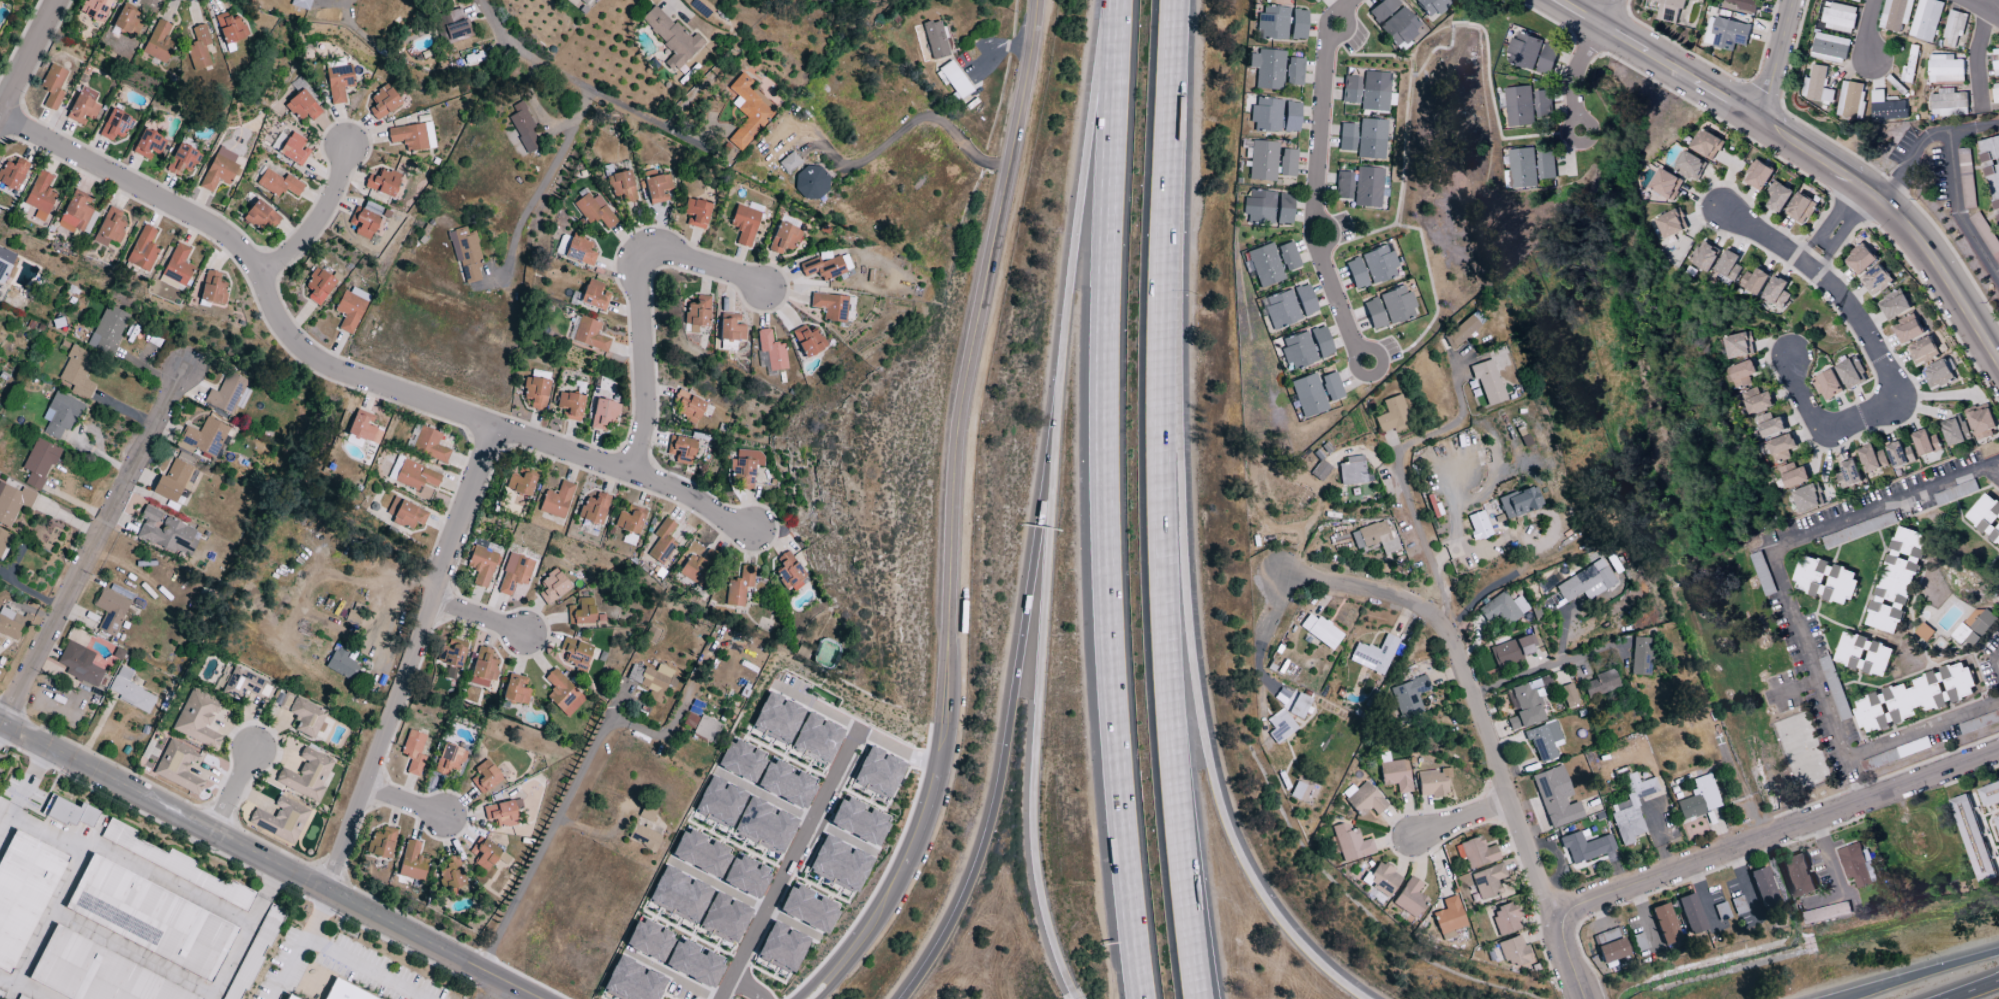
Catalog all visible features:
building: (596, 0)
building: (1317, 0)
building: (1860, 0)
building: (584, 1)
road: (331, 2)
building: (1744, 3)
building: (300, 4)
road: (1628, 4)
road: (1346, 6)
road: (1991, 6)
building: (1432, 7)
road: (1982, 7)
building: (1666, 8)
building: (95, 9)
road: (1614, 14)
building: (1894, 14)
building: (1839, 16)
building: (1924, 19)
building: (127, 20)
building: (1394, 21)
building: (1273, 23)
building: (1298, 24)
building: (454, 25)
building: (1953, 27)
building: (230, 28)
road: (1866, 29)
building: (1728, 33)
road: (1325, 34)
building: (671, 38)
building: (935, 39)
road: (1767, 39)
building: (158, 42)
building: (1829, 47)
building: (198, 48)
road: (1701, 48)
road: (1802, 48)
building: (1523, 50)
road: (1589, 50)
road: (26, 52)
road: (1005, 52)
road: (1977, 56)
building: (1546, 58)
road: (1777, 61)
building: (1995, 61)
building: (1945, 68)
building: (1268, 69)
building: (1294, 72)
building: (1905, 73)
building: (954, 80)
road: (574, 81)
building: (339, 83)
building: (1816, 84)
building: (52, 86)
building: (1350, 90)
building: (1375, 91)
building: (1995, 92)
road: (1575, 96)
building: (1849, 98)
building: (383, 102)
building: (1542, 102)
building: (1948, 102)
building: (1518, 105)
building: (83, 106)
building: (302, 106)
building: (1886, 106)
building: (747, 111)
building: (1266, 115)
building: (1291, 117)
road: (909, 123)
building: (115, 125)
building: (524, 129)
road: (1321, 129)
road: (1567, 130)
road: (1591, 131)
building: (412, 137)
building: (1347, 137)
building: (1371, 139)
building: (1706, 143)
building: (147, 144)
building: (294, 149)
road: (1806, 150)
road: (1913, 155)
building: (182, 160)
building: (1263, 161)
building: (789, 162)
building: (1287, 163)
building: (1546, 165)
building: (1689, 165)
building: (1521, 167)
building: (219, 170)
building: (1992, 170)
building: (12, 174)
building: (1757, 174)
road: (544, 179)
building: (812, 182)
building: (382, 183)
building: (1665, 183)
building: (278, 184)
building: (622, 186)
building: (1344, 186)
building: (1368, 187)
building: (658, 189)
road: (1956, 189)
road: (1910, 190)
building: (1777, 195)
building: (40, 196)
building: (1259, 207)
building: (1799, 207)
building: (1284, 209)
building: (594, 211)
building: (696, 213)
building: (74, 214)
building: (261, 217)
road: (316, 219)
road: (1830, 221)
building: (1671, 222)
building: (363, 223)
building: (745, 223)
building: (109, 228)
road: (1842, 230)
road: (1076, 232)
building: (783, 239)
building: (1989, 240)
road: (1824, 242)
road: (1313, 245)
building: (142, 250)
building: (579, 250)
building: (1703, 255)
building: (466, 256)
building: (1288, 256)
building: (1859, 258)
building: (5, 264)
building: (1728, 264)
building: (1264, 265)
building: (1379, 265)
building: (826, 267)
building: (176, 268)
building: (1356, 273)
building: (1753, 280)
building: (1875, 280)
building: (318, 286)
building: (212, 288)
building: (1776, 291)
building: (593, 295)
road: (1337, 299)
building: (1305, 300)
road: (1844, 303)
road: (640, 304)
building: (1397, 305)
building: (830, 306)
building: (1894, 306)
building: (351, 308)
building: (1280, 310)
building: (697, 314)
building: (1374, 314)
building: (730, 328)
building: (108, 330)
building: (1907, 330)
building: (1461, 331)
building: (589, 335)
building: (808, 341)
building: (1321, 342)
building: (1738, 344)
building: (1922, 349)
road: (1362, 350)
building: (771, 351)
building: (1298, 351)
road: (339, 371)
building: (77, 372)
building: (1850, 372)
building: (1741, 373)
building: (1937, 373)
building: (1487, 382)
building: (1827, 384)
building: (1331, 387)
building: (535, 392)
building: (226, 394)
building: (1308, 396)
building: (1756, 399)
building: (570, 406)
building: (688, 406)
road: (1806, 406)
building: (603, 414)
building: (60, 415)
building: (1392, 415)
building: (1981, 423)
building: (1769, 424)
building: (363, 427)
building: (1954, 430)
building: (203, 438)
building: (1925, 442)
building: (429, 445)
building: (1781, 446)
building: (680, 449)
building: (1899, 454)
building: (1871, 458)
building: (39, 463)
building: (745, 467)
road: (1992, 468)
building: (1320, 470)
building: (1351, 471)
building: (1793, 474)
building: (1847, 474)
building: (415, 476)
road: (1398, 476)
building: (174, 482)
building: (520, 484)
building: (1807, 497)
road: (1103, 500)
road: (1158, 500)
building: (556, 501)
building: (12, 502)
building: (1519, 502)
building: (593, 509)
building: (405, 514)
road: (954, 515)
building: (1985, 518)
building: (629, 521)
building: (1478, 526)
road: (1306, 528)
building: (167, 533)
building: (1367, 535)
building: (3, 542)
building: (662, 542)
road: (90, 546)
road: (1287, 562)
building: (481, 565)
road: (1778, 565)
building: (696, 567)
building: (789, 572)
building: (514, 574)
building: (1824, 579)
building: (1895, 579)
building: (1585, 582)
building: (552, 587)
building: (739, 587)
road: (1272, 598)
building: (1498, 609)
building: (110, 611)
building: (581, 612)
road: (479, 615)
building: (11, 625)
building: (1973, 627)
building: (1320, 631)
building: (651, 633)
road: (1445, 633)
building: (1513, 650)
building: (575, 652)
building: (1862, 654)
building: (1374, 655)
building: (451, 656)
building: (1640, 656)
road: (1997, 660)
road: (413, 662)
building: (79, 664)
building: (342, 664)
road: (1546, 668)
building: (482, 669)
building: (652, 680)
building: (1832, 683)
building: (1600, 684)
building: (245, 685)
road: (1796, 687)
building: (515, 690)
building: (130, 691)
building: (562, 693)
building: (1568, 695)
building: (1913, 697)
building: (1409, 698)
building: (1297, 705)
building: (1525, 707)
road: (830, 709)
building: (305, 717)
building: (777, 718)
building: (197, 719)
road: (1199, 720)
building: (689, 721)
building: (1280, 726)
road: (1922, 726)
building: (706, 728)
road: (1036, 733)
building: (817, 738)
building: (1544, 740)
road: (1007, 742)
road: (904, 750)
building: (413, 752)
building: (449, 759)
building: (741, 761)
building: (178, 767)
building: (878, 772)
building: (1395, 775)
road: (32, 776)
building: (306, 776)
building: (485, 777)
building: (1433, 782)
building: (785, 784)
road: (232, 789)
building: (1989, 792)
building: (1555, 797)
building: (1699, 798)
road: (407, 799)
building: (1363, 799)
road: (770, 800)
building: (719, 802)
building: (1, 805)
building: (1631, 809)
building: (69, 812)
building: (501, 814)
building: (280, 820)
road: (1460, 820)
road: (8, 821)
building: (858, 821)
building: (1996, 822)
building: (764, 825)
road: (1781, 834)
road: (603, 835)
building: (644, 837)
building: (1350, 842)
building: (381, 843)
road: (546, 845)
building: (1585, 846)
building: (700, 853)
building: (1477, 853)
building: (487, 855)
road: (799, 856)
road: (265, 859)
road: (1531, 862)
building: (412, 863)
building: (172, 864)
building: (839, 864)
building: (1856, 865)
building: (1797, 875)
building: (745, 877)
building: (452, 878)
building: (1383, 879)
road: (272, 882)
building: (1487, 882)
building: (1764, 887)
road: (722, 889)
building: (23, 892)
building: (679, 895)
building: (1410, 898)
building: (807, 909)
building: (1825, 912)
building: (1691, 914)
road: (317, 915)
building: (1449, 916)
building: (150, 918)
building: (724, 918)
building: (1506, 918)
building: (1665, 923)
building: (648, 940)
building: (1610, 945)
building: (781, 947)
road: (238, 948)
building: (254, 950)
building: (1514, 952)
road: (1566, 958)
road: (1960, 962)
building: (693, 964)
road: (288, 967)
road: (369, 967)
building: (96, 974)
road: (672, 976)
building: (632, 981)
road: (24, 986)
road: (1878, 986)
road: (1887, 986)
road: (747, 987)
road: (724, 989)
road: (1973, 989)
building: (343, 992)
road: (1074, 996)
building: (288, 997)
building: (19, 998)
road: (719, 998)

